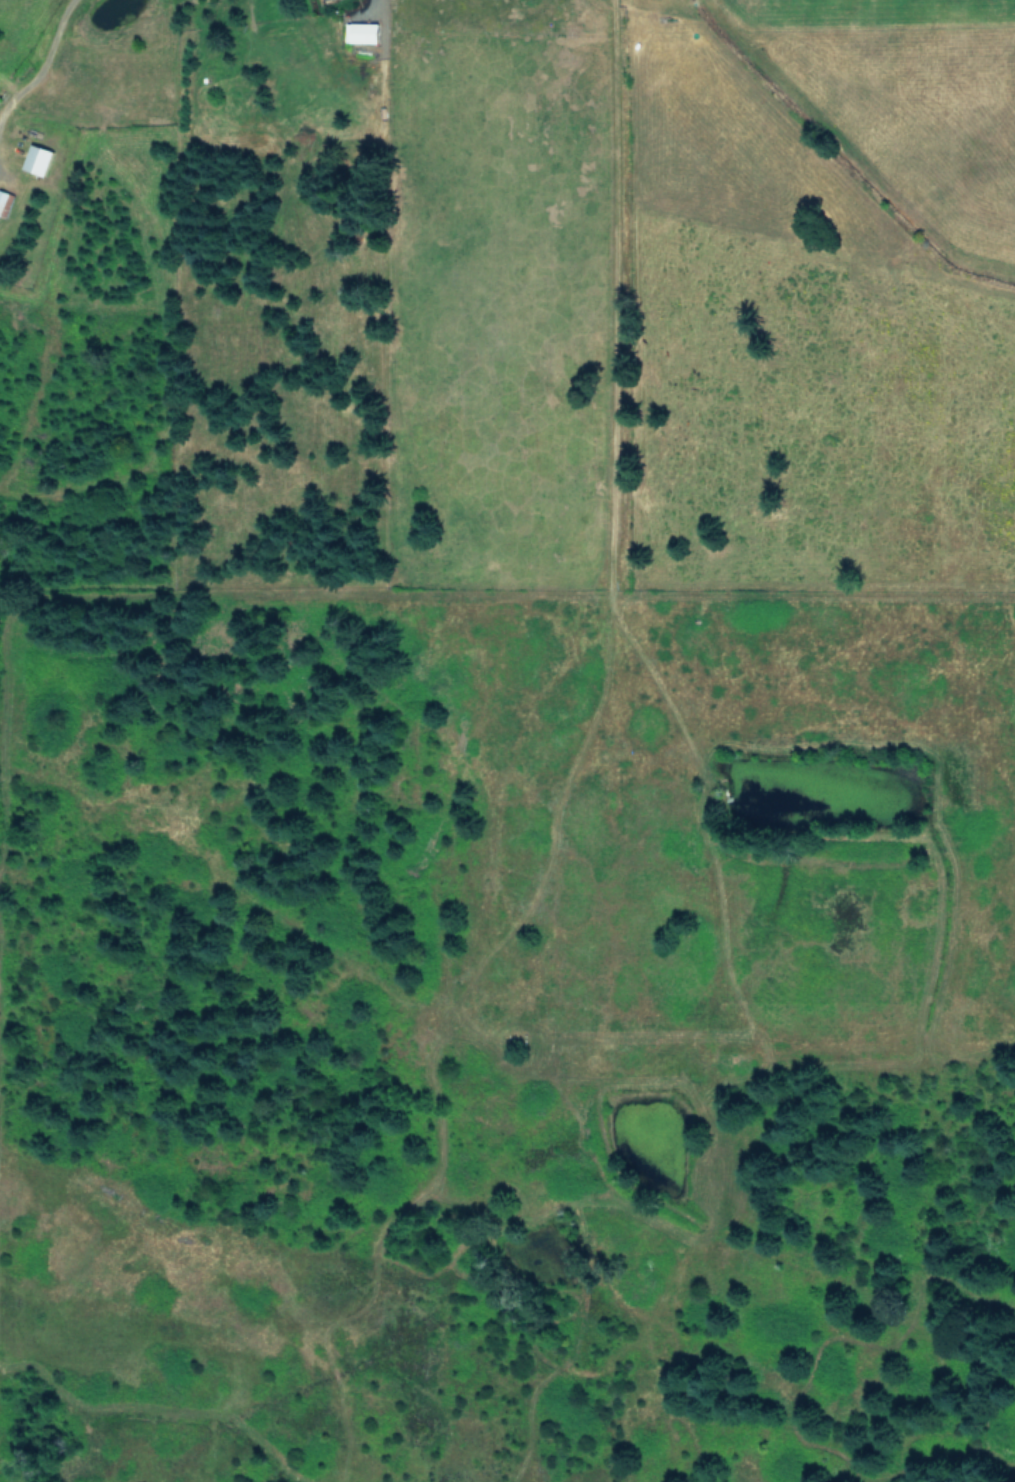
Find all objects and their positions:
building: (360, 32)
road: (35, 53)
building: (35, 158)
building: (4, 201)

